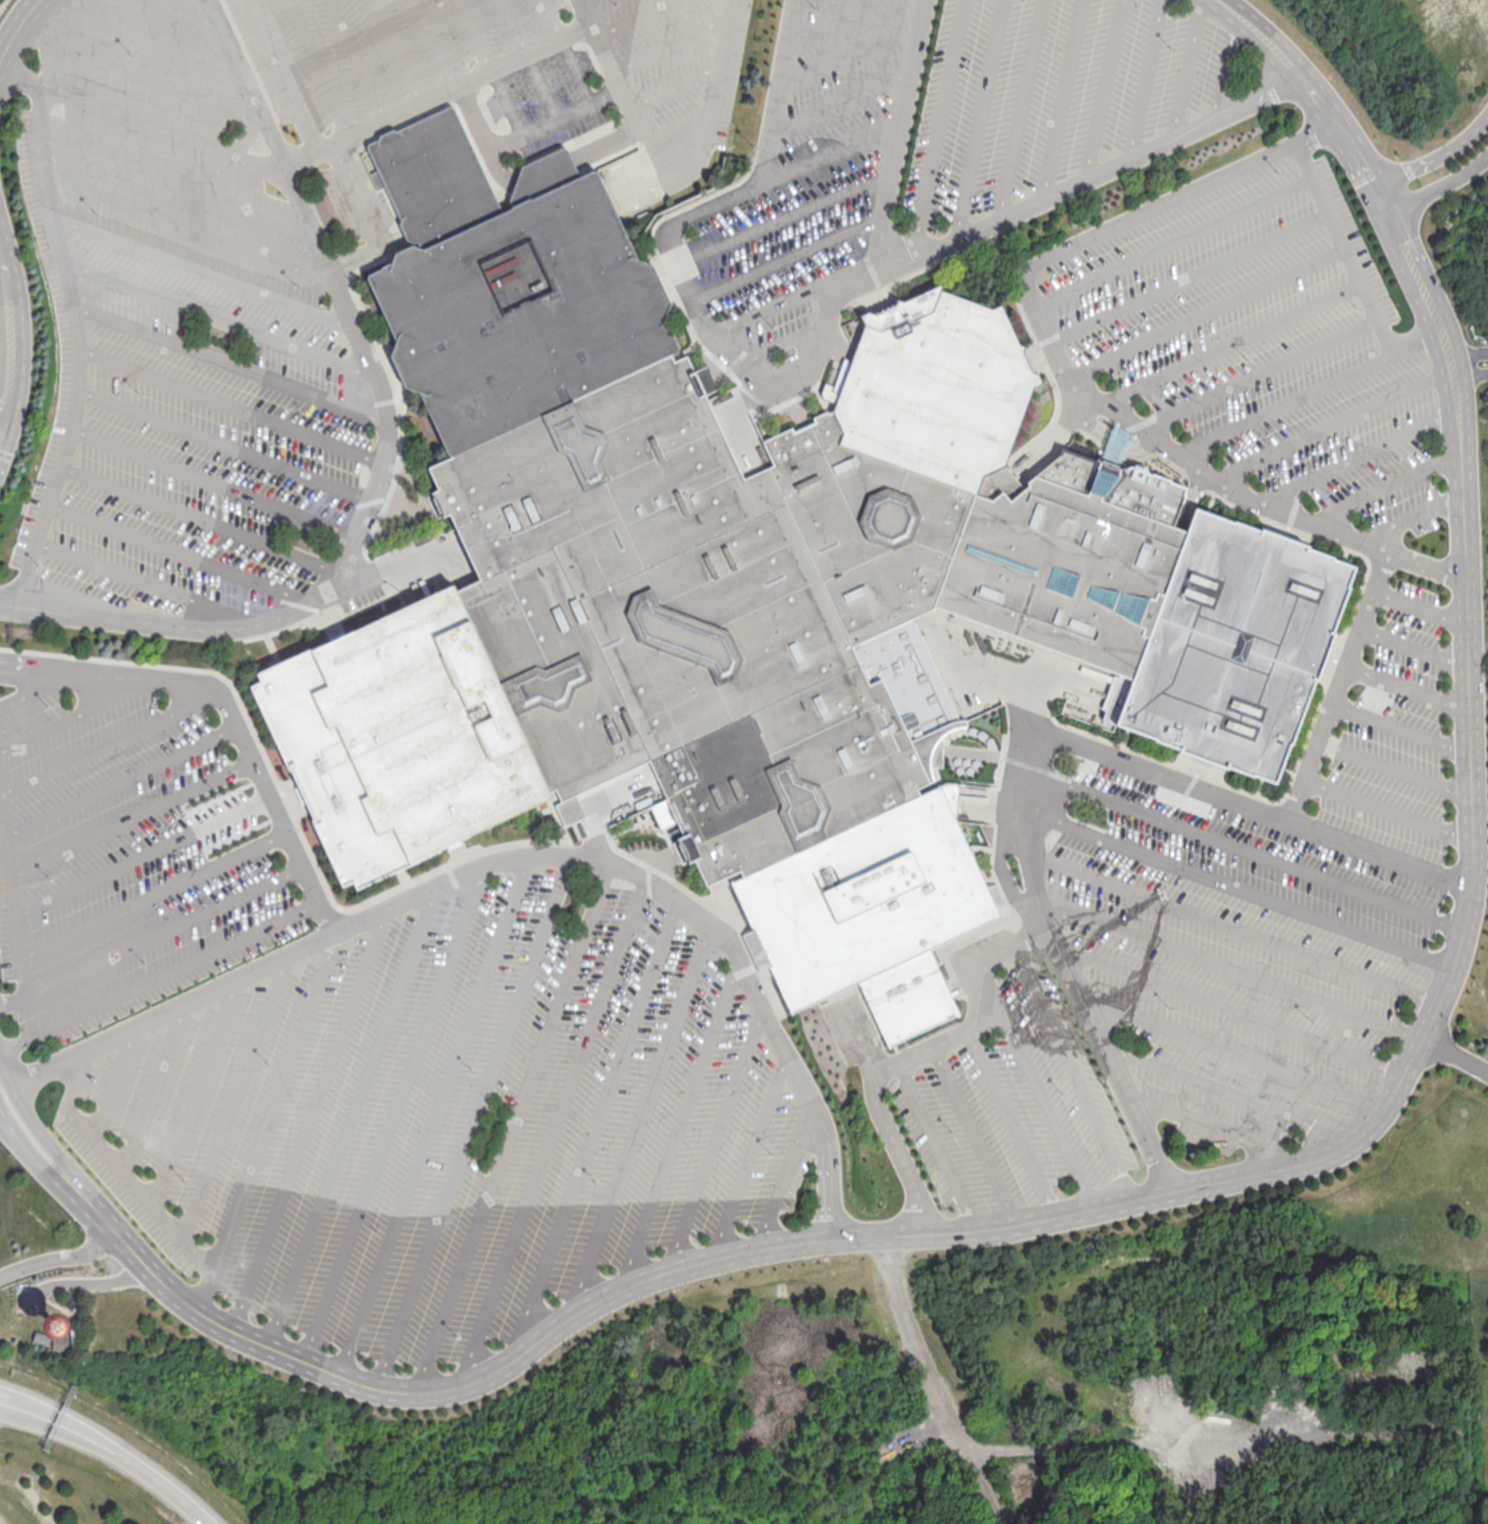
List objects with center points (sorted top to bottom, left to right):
road: (189, 13)
road: (636, 17)
road: (828, 18)
road: (16, 30)
road: (145, 37)
road: (438, 43)
road: (674, 44)
road: (852, 49)
road: (399, 51)
road: (569, 52)
road: (360, 59)
road: (533, 60)
road: (1226, 64)
road: (319, 68)
road: (490, 69)
road: (1187, 69)
road: (718, 71)
road: (284, 75)
road: (143, 78)
road: (1143, 79)
road: (676, 83)
road: (1103, 89)
road: (440, 94)
road: (842, 99)
road: (1061, 99)
road: (631, 101)
road: (1021, 109)
road: (575, 114)
road: (977, 121)
road: (146, 124)
road: (938, 130)
parking lot: (938, 136)
road: (897, 138)
road: (830, 151)
road: (1440, 154)
road: (174, 175)
road: (1444, 184)
road: (783, 217)
road: (186, 222)
road: (1172, 241)
road: (1343, 246)
road: (787, 256)
parking lot: (270, 257)
road: (203, 272)
road: (1188, 276)
road: (795, 295)
road: (1205, 311)
road: (220, 320)
road: (820, 335)
road: (1416, 338)
road: (5, 339)
parking lot: (1261, 342)
road: (3, 343)
road: (783, 343)
road: (1231, 343)
road: (79, 348)
road: (1468, 354)
road: (231, 363)
road: (1060, 367)
road: (1256, 371)
road: (1469, 375)
road: (1285, 403)
road: (232, 405)
road: (1333, 423)
road: (226, 444)
building: (1116, 446)
road: (385, 450)
road: (1356, 456)
road: (213, 483)
road: (1384, 487)
road: (1412, 516)
road: (198, 517)
road: (181, 550)
road: (147, 581)
building: (750, 590)
road: (1418, 604)
road: (1412, 645)
road: (1337, 685)
road: (34, 689)
road: (1406, 689)
road: (230, 711)
road: (78, 714)
road: (1401, 728)
road: (110, 742)
road: (1471, 753)
road: (1395, 768)
road: (1156, 771)
road: (121, 780)
road: (1388, 809)
road: (131, 815)
road: (1245, 847)
parking lot: (129, 853)
road: (143, 854)
road: (518, 856)
road: (1238, 886)
road: (154, 891)
road: (15, 910)
road: (1233, 925)
road: (165, 930)
road: (1031, 935)
parking lot: (1208, 959)
road: (1229, 969)
road: (161, 974)
road: (1234, 1010)
road: (1236, 1051)
road: (1455, 1058)
road: (893, 1064)
road: (1116, 1069)
road: (1074, 1072)
road: (78, 1079)
road: (113, 1083)
road: (151, 1088)
road: (1040, 1090)
road: (197, 1092)
road: (1233, 1093)
road: (234, 1097)
road: (274, 1102)
road: (394, 1112)
road: (352, 1115)
road: (435, 1115)
road: (311, 1119)
parking lot: (450, 1120)
road: (640, 1121)
road: (474, 1122)
road: (1012, 1122)
road: (682, 1123)
road: (1208, 1125)
road: (513, 1126)
road: (9, 1131)
road: (554, 1131)
road: (592, 1131)
road: (39, 1132)
road: (977, 1134)
road: (714, 1138)
road: (939, 1144)
road: (751, 1157)
road: (36, 1160)
road: (787, 1177)
road: (152, 1206)
road: (60, 1258)
road: (85, 1282)
water tower: (57, 1326)
road: (505, 1364)
road: (935, 1383)
road: (2, 1401)
road: (59, 1423)
road: (1138, 1441)
road: (162, 1484)

